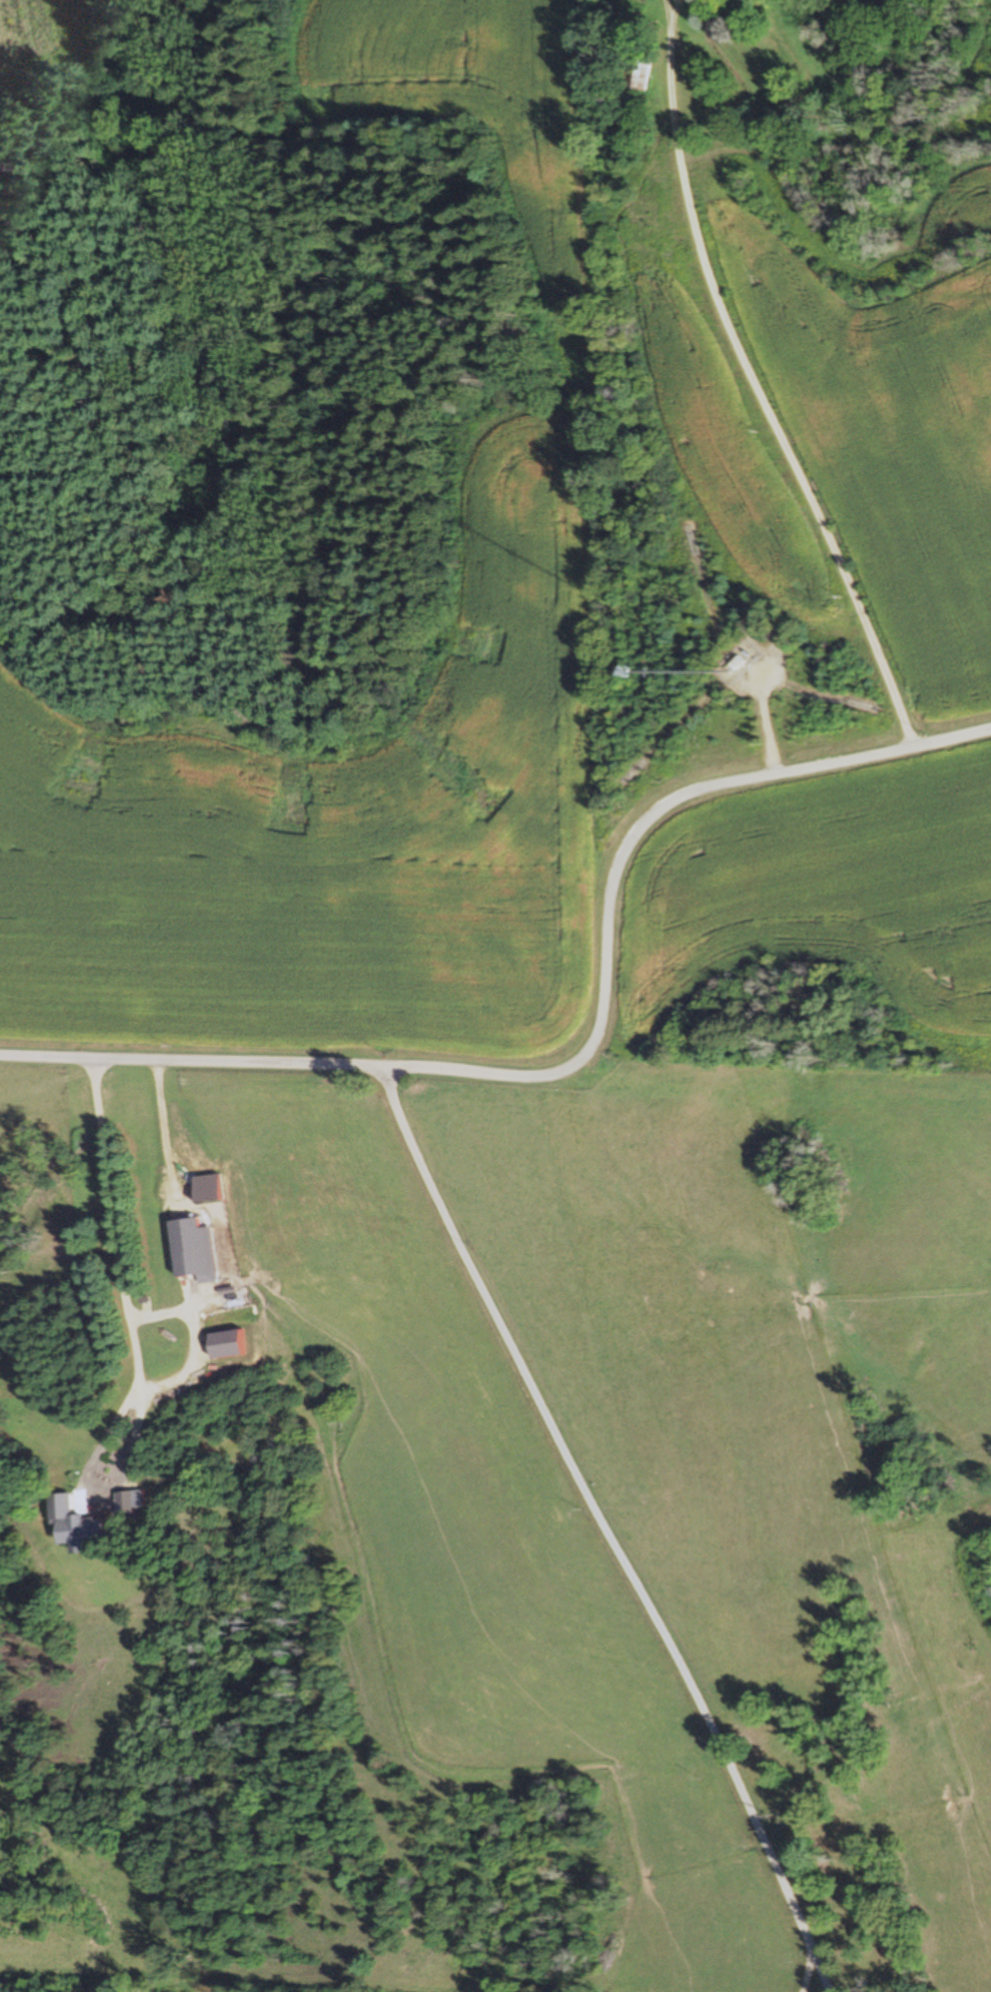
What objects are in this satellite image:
building: (639, 72)
road: (744, 390)
road: (589, 1053)
building: (200, 1249)
building: (84, 1525)
road: (592, 1527)

